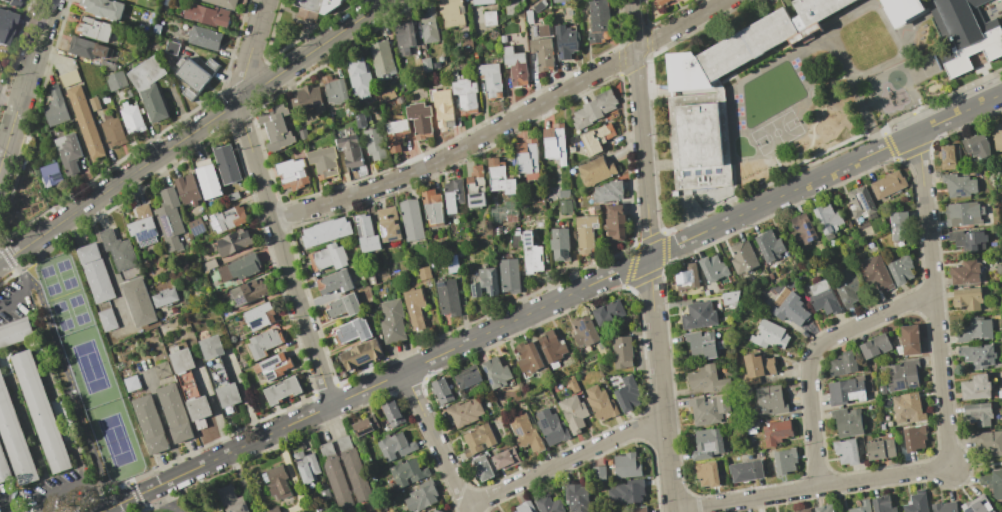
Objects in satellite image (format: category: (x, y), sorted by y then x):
building: (559, 1)
building: (661, 1)
building: (482, 2)
building: (11, 3)
building: (222, 3)
building: (513, 6)
building: (538, 6)
building: (313, 7)
building: (103, 8)
building: (901, 11)
building: (451, 13)
building: (207, 14)
building: (528, 16)
building: (489, 18)
building: (598, 21)
building: (428, 24)
building: (4, 25)
building: (94, 29)
building: (156, 29)
building: (542, 31)
building: (964, 32)
building: (404, 37)
building: (204, 38)
building: (502, 38)
building: (565, 41)
building: (465, 44)
building: (171, 47)
building: (87, 48)
building: (542, 53)
road: (32, 59)
building: (381, 60)
building: (212, 64)
building: (436, 64)
building: (426, 65)
building: (515, 67)
building: (192, 75)
building: (68, 77)
building: (359, 78)
building: (490, 79)
building: (115, 80)
building: (149, 87)
building: (334, 90)
building: (724, 92)
building: (187, 93)
building: (386, 93)
building: (465, 96)
building: (398, 99)
building: (306, 100)
building: (94, 103)
road: (6, 107)
building: (55, 107)
building: (442, 107)
building: (593, 109)
road: (960, 112)
building: (131, 118)
building: (360, 120)
building: (419, 120)
building: (85, 122)
road: (506, 124)
building: (275, 128)
road: (196, 129)
building: (112, 132)
building: (301, 133)
building: (395, 134)
building: (997, 137)
building: (598, 139)
road: (7, 143)
building: (555, 143)
building: (374, 144)
building: (977, 146)
building: (349, 151)
building: (68, 152)
building: (947, 156)
building: (527, 158)
building: (323, 162)
building: (225, 164)
building: (595, 171)
rooftop solar panel: (707, 171)
rooftop solar panel: (688, 172)
rooftop solar panel: (699, 172)
building: (50, 174)
building: (291, 174)
building: (499, 177)
building: (208, 181)
building: (888, 184)
building: (958, 185)
building: (476, 188)
building: (187, 190)
building: (609, 191)
building: (564, 192)
building: (454, 195)
rooftop solar panel: (476, 195)
rooftop solar panel: (866, 200)
rooftop solar panel: (477, 201)
building: (861, 202)
road: (268, 203)
building: (565, 207)
building: (432, 208)
building: (962, 214)
building: (827, 218)
building: (169, 219)
building: (227, 219)
building: (412, 220)
building: (615, 222)
building: (389, 224)
rooftop solar panel: (217, 225)
building: (143, 226)
building: (195, 226)
rooftop solar panel: (811, 226)
building: (898, 226)
rooftop solar panel: (361, 227)
building: (803, 228)
building: (326, 231)
rooftop solar panel: (198, 232)
rooftop solar panel: (811, 232)
rooftop solar panel: (531, 233)
building: (587, 233)
building: (366, 234)
rooftop solar panel: (809, 234)
rooftop solar panel: (146, 237)
rooftop solar panel: (529, 238)
building: (515, 240)
building: (967, 240)
building: (233, 242)
rooftop solar panel: (811, 242)
rooftop solar panel: (528, 243)
building: (561, 244)
building: (769, 246)
building: (120, 254)
building: (533, 255)
road: (649, 256)
building: (329, 258)
building: (743, 258)
road: (3, 260)
building: (452, 263)
building: (208, 264)
road: (13, 265)
building: (240, 268)
building: (713, 268)
building: (900, 270)
building: (876, 272)
building: (425, 273)
building: (964, 273)
park: (65, 274)
building: (509, 275)
building: (687, 276)
road: (28, 280)
park: (48, 280)
building: (335, 282)
building: (486, 282)
road: (24, 283)
building: (97, 283)
building: (846, 286)
building: (249, 292)
rooftop solar panel: (475, 293)
building: (821, 297)
building: (165, 298)
building: (449, 298)
building: (730, 298)
building: (966, 298)
road: (14, 300)
parking lot: (14, 301)
building: (138, 302)
building: (343, 306)
building: (416, 307)
park: (77, 309)
building: (790, 309)
building: (609, 312)
park: (61, 315)
building: (699, 315)
building: (260, 316)
rooftop solar panel: (256, 321)
road: (508, 321)
building: (392, 322)
building: (974, 330)
building: (352, 331)
building: (584, 331)
building: (15, 332)
building: (769, 335)
building: (908, 341)
building: (264, 342)
building: (703, 345)
building: (874, 346)
building: (552, 347)
building: (622, 352)
building: (360, 354)
road: (814, 354)
building: (977, 355)
building: (528, 358)
rooftop solar panel: (364, 360)
rooftop solar panel: (270, 363)
building: (842, 364)
building: (273, 365)
park: (88, 367)
park: (89, 367)
building: (757, 368)
building: (159, 371)
building: (495, 372)
building: (219, 374)
rooftop solar panel: (272, 375)
building: (903, 376)
building: (468, 377)
building: (707, 380)
building: (130, 385)
building: (572, 385)
rooftop solar panel: (899, 386)
rooftop solar panel: (912, 386)
building: (189, 388)
building: (974, 388)
building: (282, 390)
building: (847, 390)
building: (441, 391)
building: (627, 394)
building: (770, 400)
building: (600, 403)
building: (907, 409)
building: (708, 410)
building: (42, 412)
building: (462, 412)
building: (174, 413)
building: (392, 413)
building: (573, 413)
building: (977, 413)
building: (847, 422)
building: (149, 424)
building: (364, 425)
building: (551, 427)
road: (87, 430)
rooftop solar panel: (519, 431)
building: (776, 432)
building: (525, 433)
road: (948, 437)
building: (913, 438)
building: (15, 439)
building: (477, 439)
park: (115, 440)
road: (435, 441)
building: (988, 441)
building: (707, 444)
building: (394, 446)
building: (880, 449)
building: (845, 451)
building: (505, 458)
road: (565, 461)
building: (784, 461)
building: (626, 465)
road: (977, 465)
building: (306, 466)
building: (481, 467)
building: (4, 469)
building: (353, 470)
building: (745, 471)
building: (406, 472)
building: (599, 473)
building: (706, 474)
building: (334, 476)
building: (993, 482)
building: (277, 483)
road: (66, 488)
building: (324, 492)
building: (626, 492)
road: (95, 496)
building: (421, 497)
building: (576, 498)
building: (231, 501)
park: (188, 502)
building: (916, 502)
road: (45, 504)
building: (547, 504)
building: (881, 505)
building: (976, 505)
building: (860, 506)
road: (8, 507)
building: (524, 507)
building: (944, 507)
building: (823, 508)
building: (636, 509)
building: (273, 510)
building: (804, 510)
building: (434, 511)

